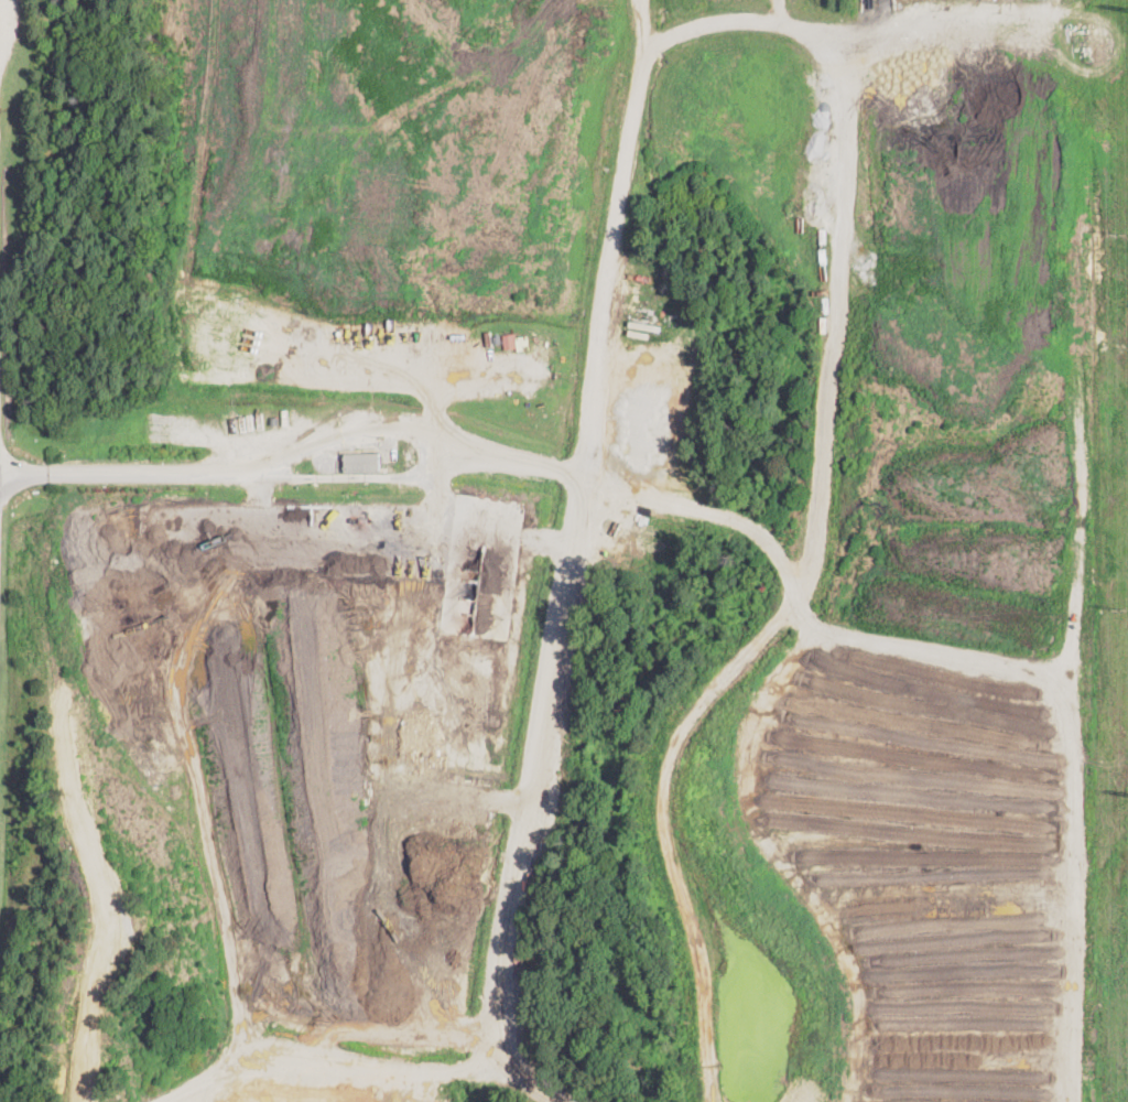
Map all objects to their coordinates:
road: (640, 37)
power tower: (1118, 234)
building: (497, 338)
building: (521, 338)
building: (509, 339)
building: (665, 408)
road: (375, 430)
building: (364, 463)
road: (539, 465)
road: (132, 472)
road: (378, 478)
road: (584, 495)
road: (416, 538)
landfill: (575, 551)
road: (792, 590)
power tower: (1120, 609)
road: (879, 773)

